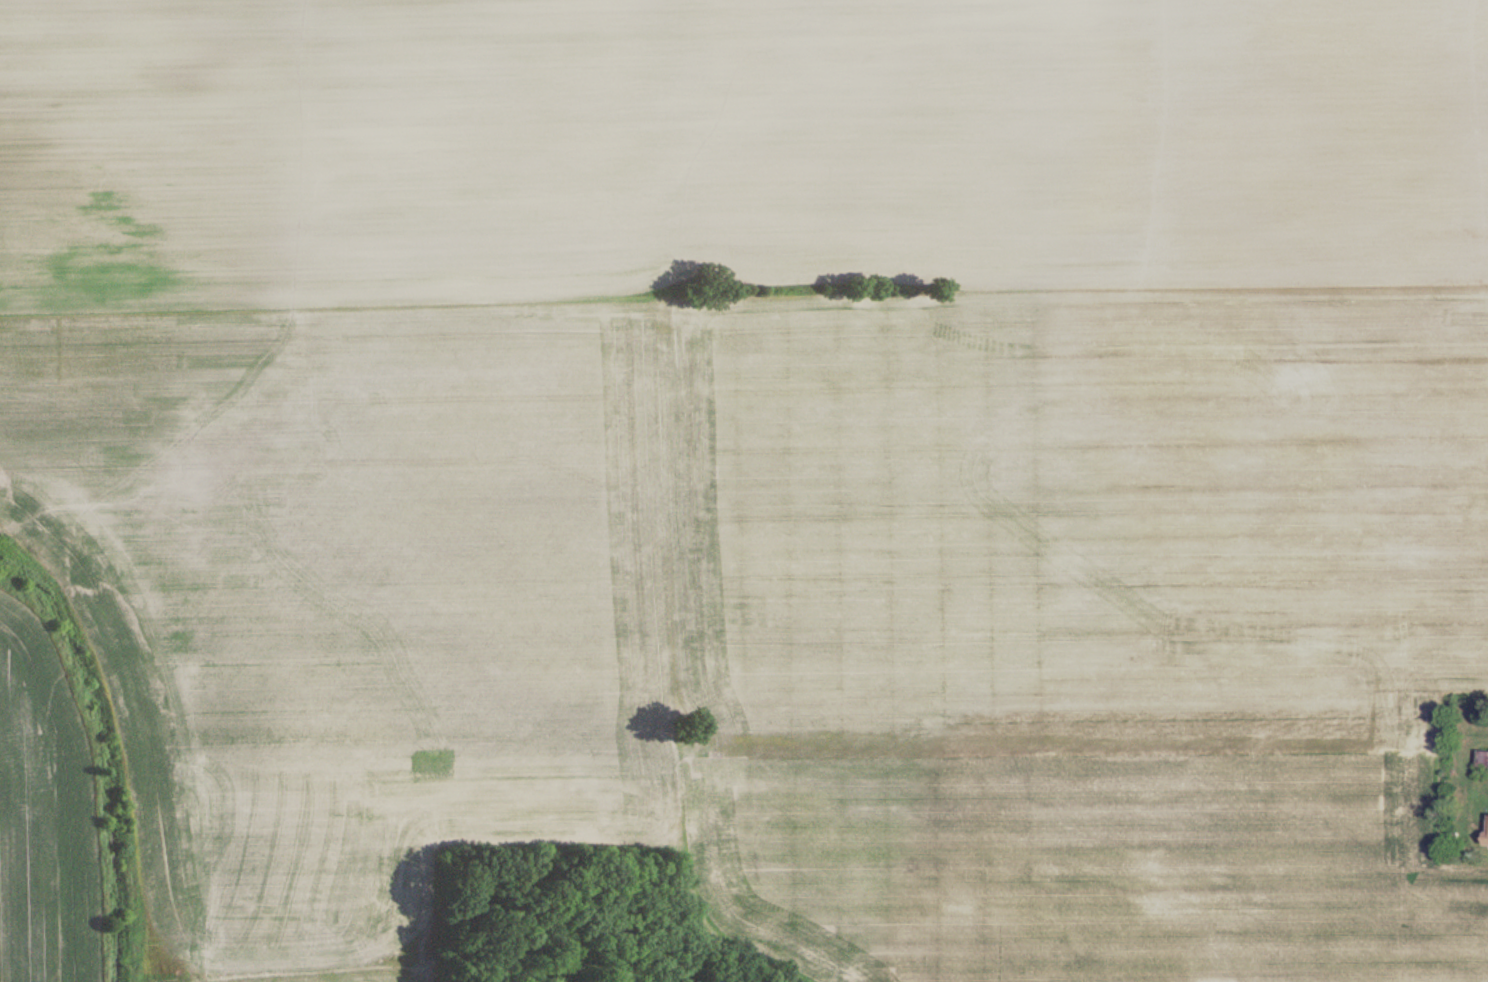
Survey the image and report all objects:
building: (1483, 758)

